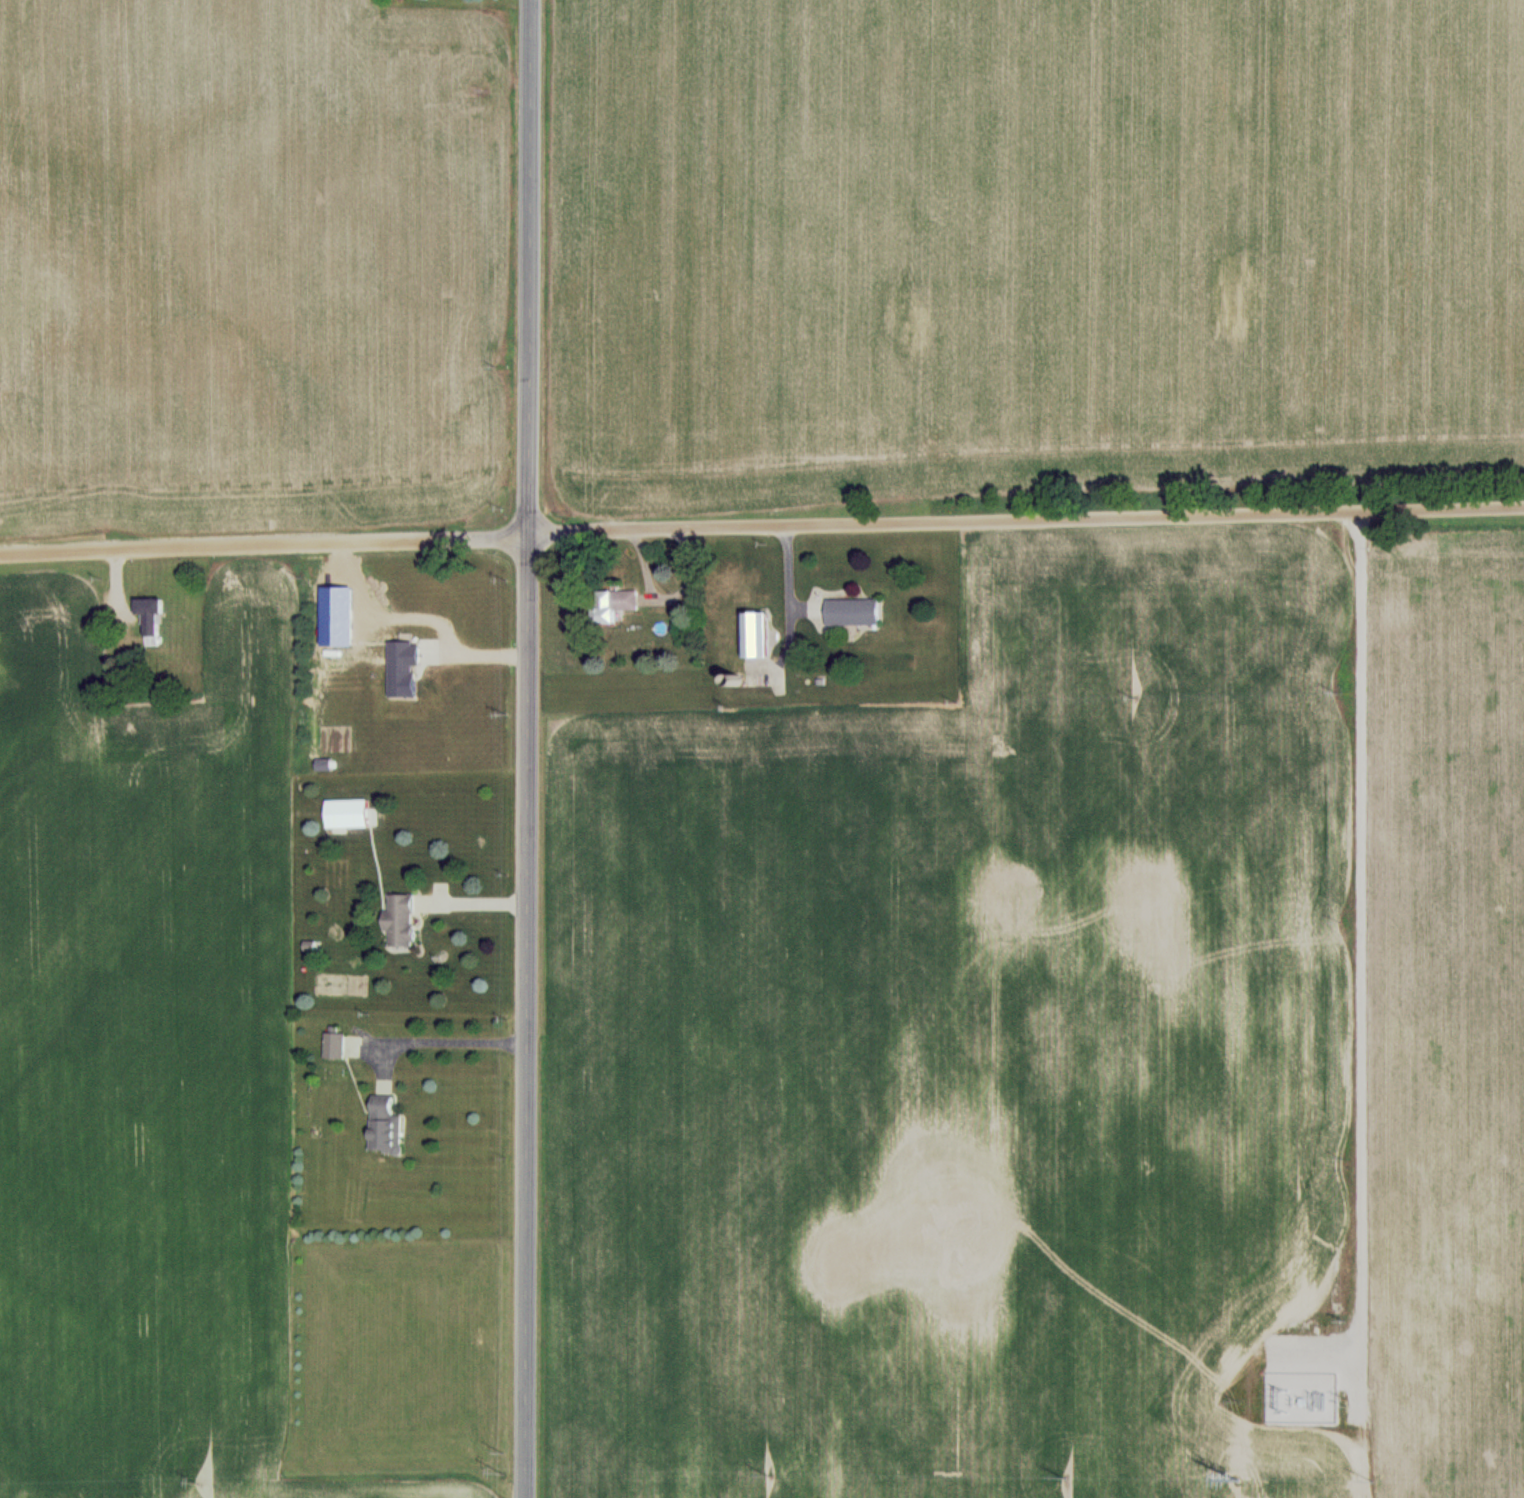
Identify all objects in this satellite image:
road: (761, 529)
road: (1360, 529)
road: (788, 596)
building: (613, 605)
building: (852, 611)
road: (420, 617)
building: (150, 619)
building: (754, 636)
road: (525, 748)
road: (472, 903)
building: (399, 920)
road: (1361, 985)
road: (441, 1039)
building: (334, 1045)
building: (384, 1125)
road: (1312, 1357)
road: (1348, 1382)
power substation: (1300, 1397)

